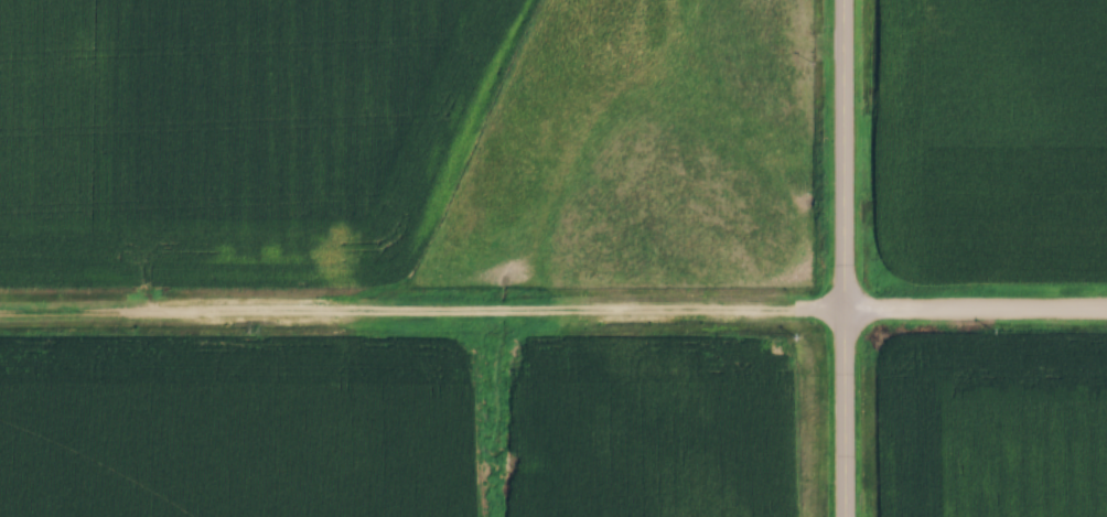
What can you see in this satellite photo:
road: (845, 258)
road: (976, 314)
road: (422, 315)

